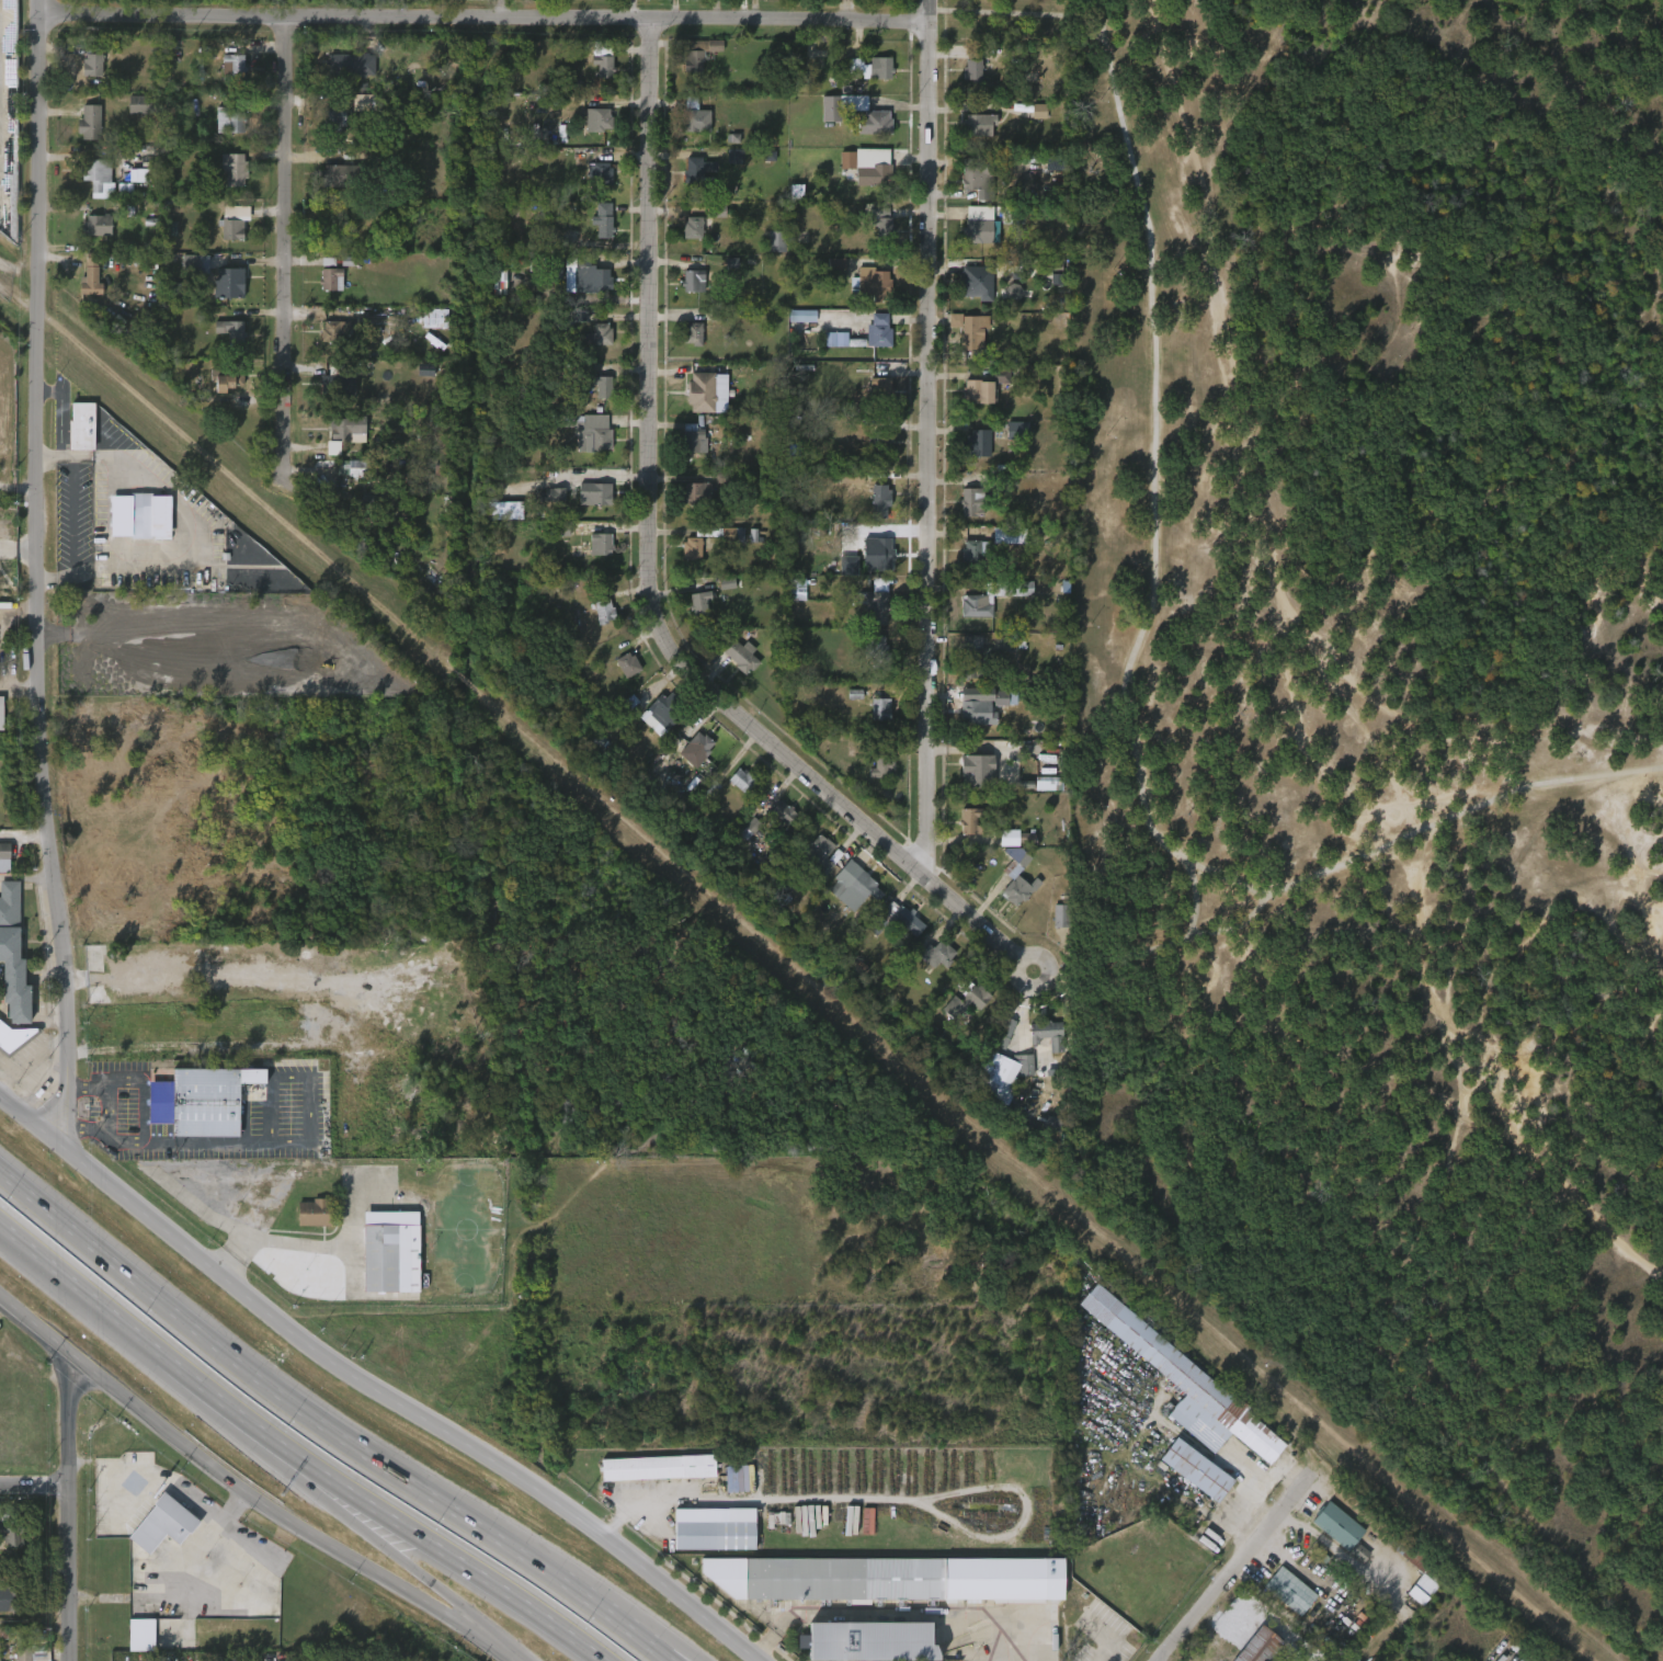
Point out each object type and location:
road: (39, 7)
road: (348, 16)
road: (794, 21)
road: (1002, 25)
building: (700, 54)
building: (603, 57)
building: (91, 60)
building: (233, 61)
building: (351, 64)
building: (691, 66)
building: (973, 66)
building: (872, 67)
building: (84, 78)
building: (342, 78)
building: (225, 79)
building: (595, 79)
building: (862, 81)
building: (964, 83)
building: (143, 104)
building: (334, 112)
building: (695, 116)
building: (874, 116)
building: (231, 117)
building: (595, 118)
building: (832, 118)
building: (89, 122)
building: (979, 124)
building: (1030, 124)
building: (328, 129)
building: (687, 130)
building: (223, 133)
building: (590, 133)
building: (81, 135)
building: (865, 136)
building: (970, 137)
building: (233, 168)
building: (727, 169)
building: (867, 171)
building: (600, 172)
building: (699, 172)
building: (839, 173)
building: (98, 177)
building: (978, 178)
building: (342, 180)
building: (225, 182)
building: (688, 182)
building: (594, 184)
building: (130, 187)
building: (327, 187)
building: (91, 190)
building: (969, 193)
building: (603, 219)
building: (235, 221)
building: (881, 223)
building: (96, 225)
building: (693, 227)
building: (332, 229)
building: (981, 230)
building: (872, 231)
building: (595, 232)
building: (226, 235)
building: (89, 237)
building: (684, 240)
building: (776, 241)
road: (289, 248)
building: (766, 255)
building: (320, 273)
building: (90, 275)
building: (187, 275)
building: (330, 275)
building: (592, 276)
building: (828, 278)
building: (693, 281)
building: (226, 282)
building: (975, 282)
building: (872, 283)
building: (577, 289)
building: (82, 292)
building: (322, 292)
building: (681, 294)
building: (221, 295)
building: (863, 297)
building: (1004, 305)
building: (434, 318)
building: (794, 328)
building: (333, 330)
building: (971, 330)
building: (233, 331)
building: (428, 331)
building: (879, 331)
building: (693, 333)
building: (599, 334)
building: (961, 342)
building: (224, 343)
building: (870, 343)
building: (685, 346)
building: (591, 348)
building: (827, 352)
building: (226, 378)
building: (337, 379)
building: (603, 386)
building: (986, 386)
building: (880, 389)
building: (702, 393)
building: (217, 396)
building: (330, 399)
building: (594, 399)
building: (872, 399)
building: (693, 405)
building: (969, 405)
road: (60, 412)
building: (81, 425)
building: (349, 426)
building: (591, 432)
road: (930, 434)
building: (693, 440)
building: (340, 441)
building: (1009, 441)
road: (1152, 441)
building: (880, 442)
building: (977, 444)
road: (48, 454)
building: (685, 454)
building: (873, 456)
building: (968, 456)
road: (128, 465)
building: (356, 467)
building: (342, 480)
road: (16, 481)
building: (844, 489)
building: (700, 492)
building: (595, 493)
road: (654, 500)
building: (880, 501)
building: (973, 503)
building: (688, 505)
building: (548, 507)
building: (586, 507)
building: (872, 514)
building: (964, 514)
building: (140, 516)
building: (134, 527)
road: (71, 528)
building: (554, 544)
building: (601, 544)
building: (692, 548)
building: (1000, 548)
building: (877, 549)
building: (976, 553)
building: (592, 556)
road: (16, 560)
building: (684, 560)
building: (868, 564)
building: (964, 564)
road: (34, 578)
building: (429, 582)
building: (797, 589)
building: (718, 595)
building: (992, 598)
building: (877, 600)
building: (702, 602)
building: (788, 602)
building: (95, 603)
road: (18, 608)
building: (604, 611)
building: (982, 611)
building: (691, 614)
building: (867, 614)
building: (84, 617)
building: (596, 624)
building: (180, 626)
building: (110, 644)
road: (1, 649)
building: (878, 652)
building: (741, 653)
building: (996, 657)
building: (869, 658)
building: (975, 659)
building: (628, 664)
building: (732, 669)
building: (619, 678)
road: (18, 689)
building: (846, 706)
building: (986, 706)
building: (661, 707)
building: (880, 709)
building: (1, 712)
park: (1389, 719)
building: (872, 721)
park: (1386, 723)
building: (651, 729)
building: (703, 743)
building: (599, 744)
building: (688, 761)
building: (881, 761)
building: (977, 765)
building: (873, 777)
building: (742, 778)
building: (969, 784)
building: (733, 793)
building: (1039, 796)
building: (783, 811)
building: (968, 820)
building: (774, 824)
building: (961, 833)
building: (1000, 849)
building: (4, 851)
building: (821, 853)
road: (1348, 864)
building: (813, 866)
building: (0, 869)
road: (27, 876)
building: (1018, 879)
road: (1229, 879)
building: (866, 885)
building: (1009, 892)
road: (1196, 898)
building: (845, 899)
road: (977, 919)
building: (909, 920)
building: (1050, 929)
building: (895, 932)
building: (939, 954)
building: (11, 955)
building: (930, 966)
building: (86, 970)
railway: (798, 970)
building: (967, 998)
building: (1047, 1034)
building: (13, 1039)
building: (1036, 1043)
building: (996, 1046)
road: (33, 1056)
road: (5, 1068)
building: (994, 1087)
building: (204, 1100)
road: (149, 1160)
building: (314, 1213)
building: (305, 1226)
road: (300, 1258)
building: (379, 1258)
road: (150, 1346)
building: (1182, 1381)
road: (270, 1388)
road: (371, 1389)
building: (659, 1468)
building: (1192, 1468)
building: (650, 1479)
building: (1187, 1481)
road: (34, 1487)
building: (728, 1490)
road: (246, 1492)
road: (340, 1500)
road: (68, 1509)
building: (169, 1520)
building: (1336, 1525)
building: (710, 1528)
building: (11, 1529)
building: (1329, 1537)
building: (4, 1546)
road: (454, 1559)
road: (401, 1560)
building: (1351, 1565)
building: (1420, 1567)
road: (1233, 1569)
building: (901, 1579)
building: (1288, 1589)
building: (14, 1597)
building: (1413, 1601)
building: (1282, 1603)
road: (451, 1606)
road: (903, 1616)
road: (613, 1619)
road: (766, 1640)
building: (869, 1642)
building: (133, 1646)
building: (1254, 1646)
building: (794, 1653)
road: (667, 1660)

